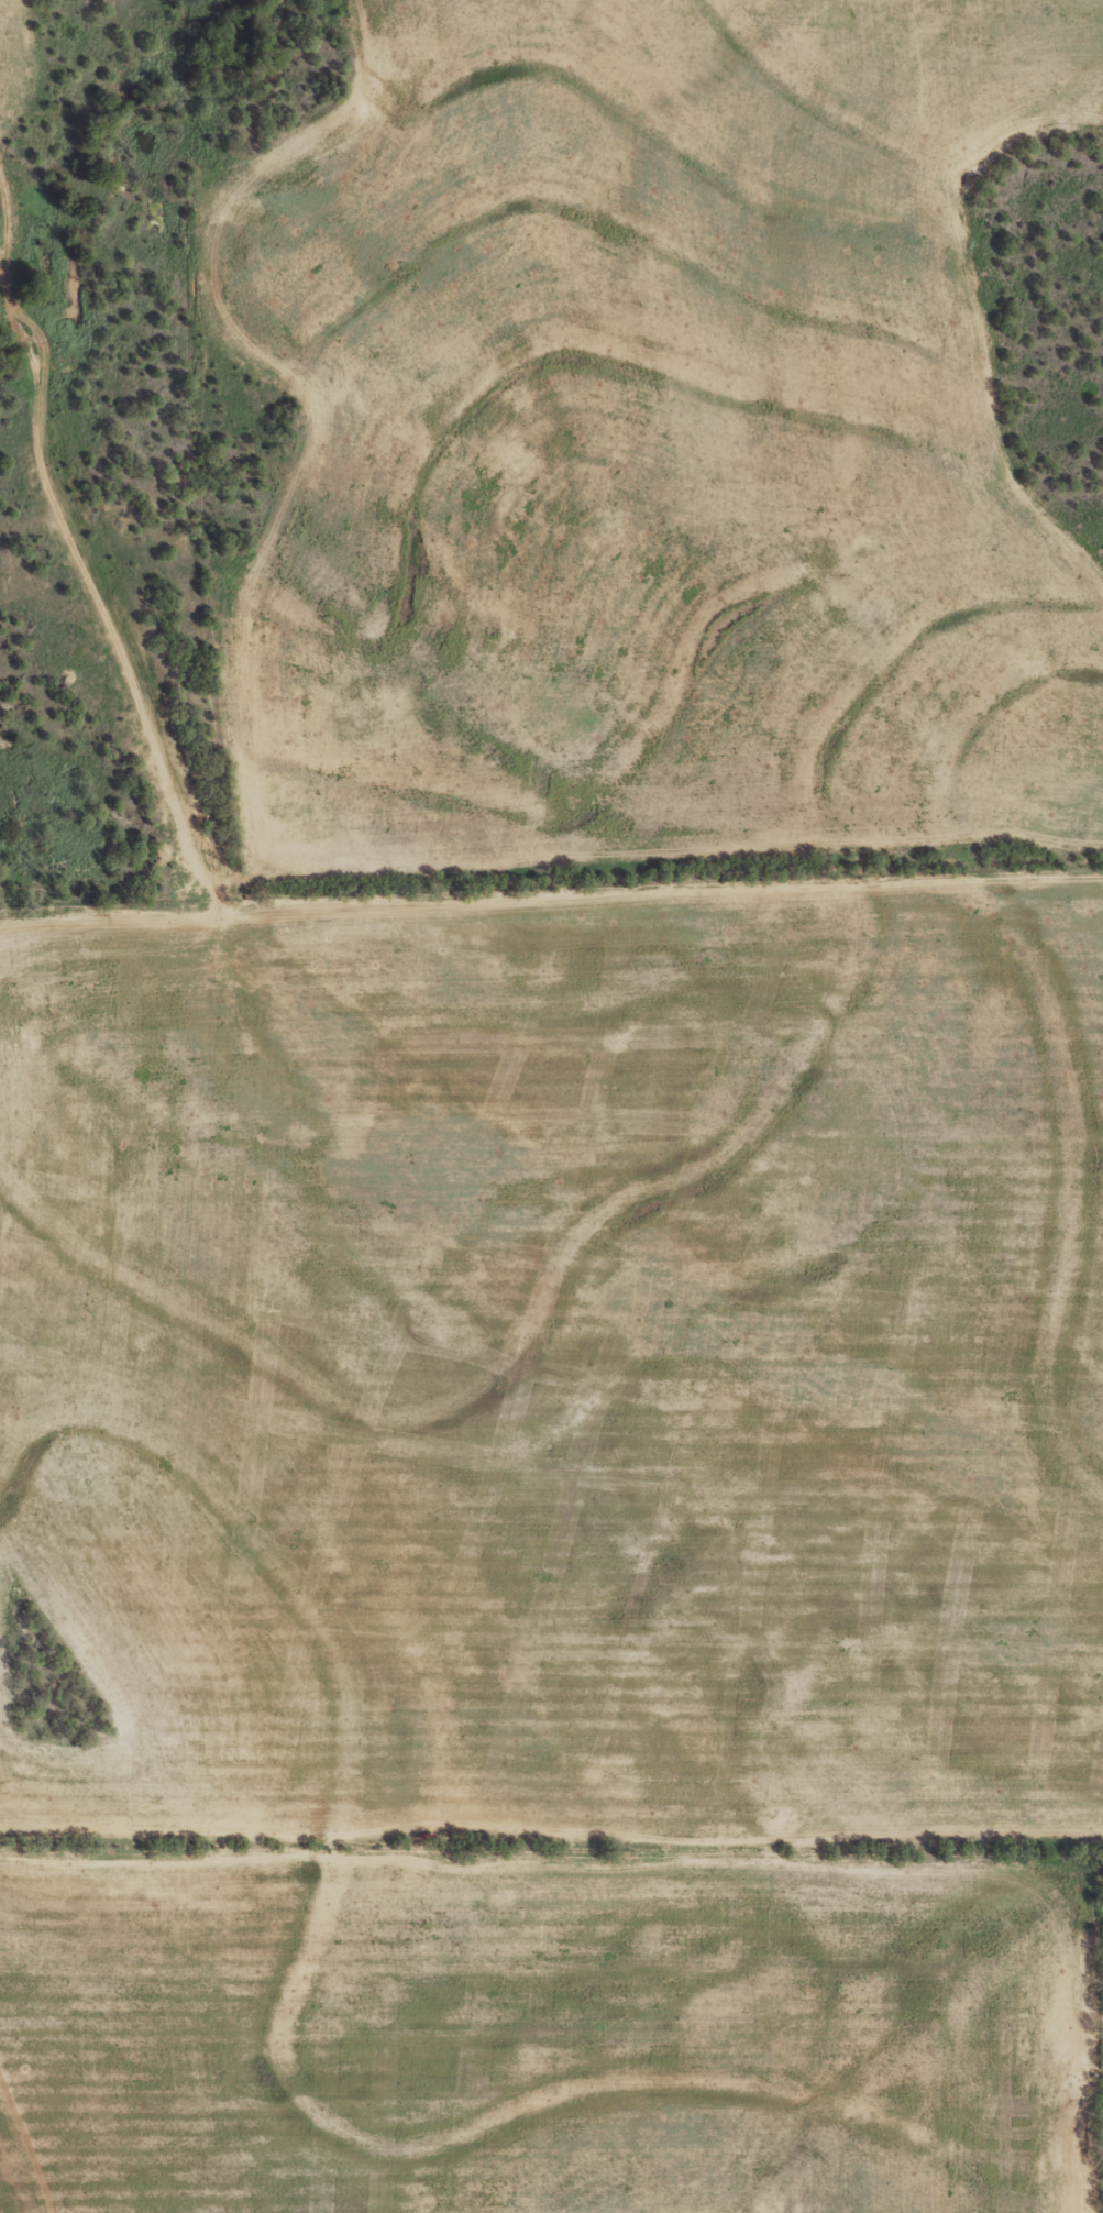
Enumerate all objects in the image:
road: (125, 573)

